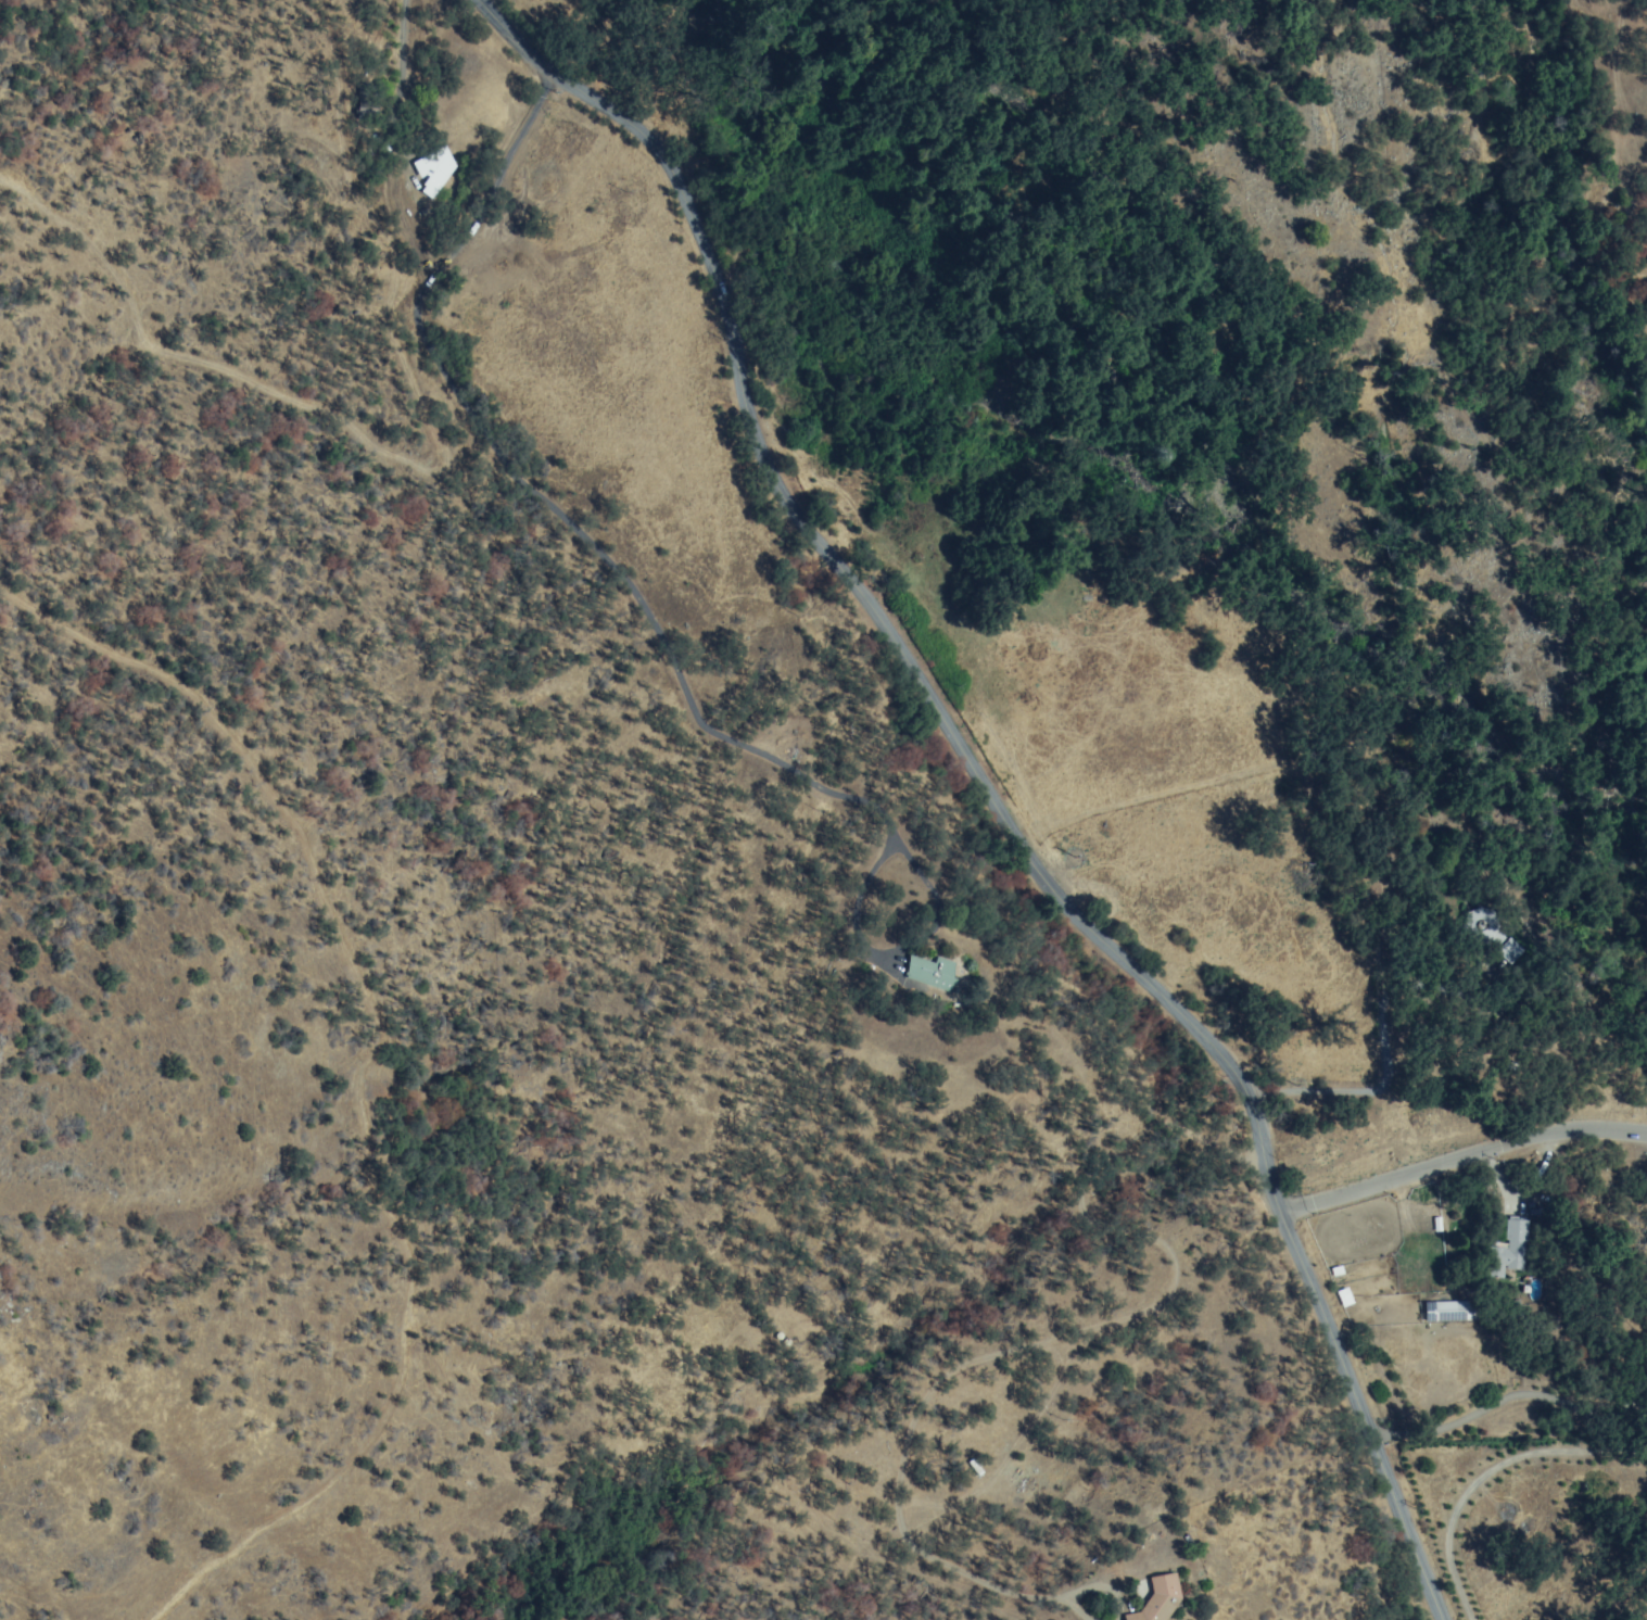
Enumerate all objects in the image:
building: (431, 167)
river: (1593, 192)
road: (581, 612)
road: (985, 788)
building: (1488, 933)
building: (1506, 950)
building: (930, 973)
road: (1462, 1154)
building: (1508, 1249)
building: (1447, 1311)
road: (1486, 1478)
building: (1160, 1598)

